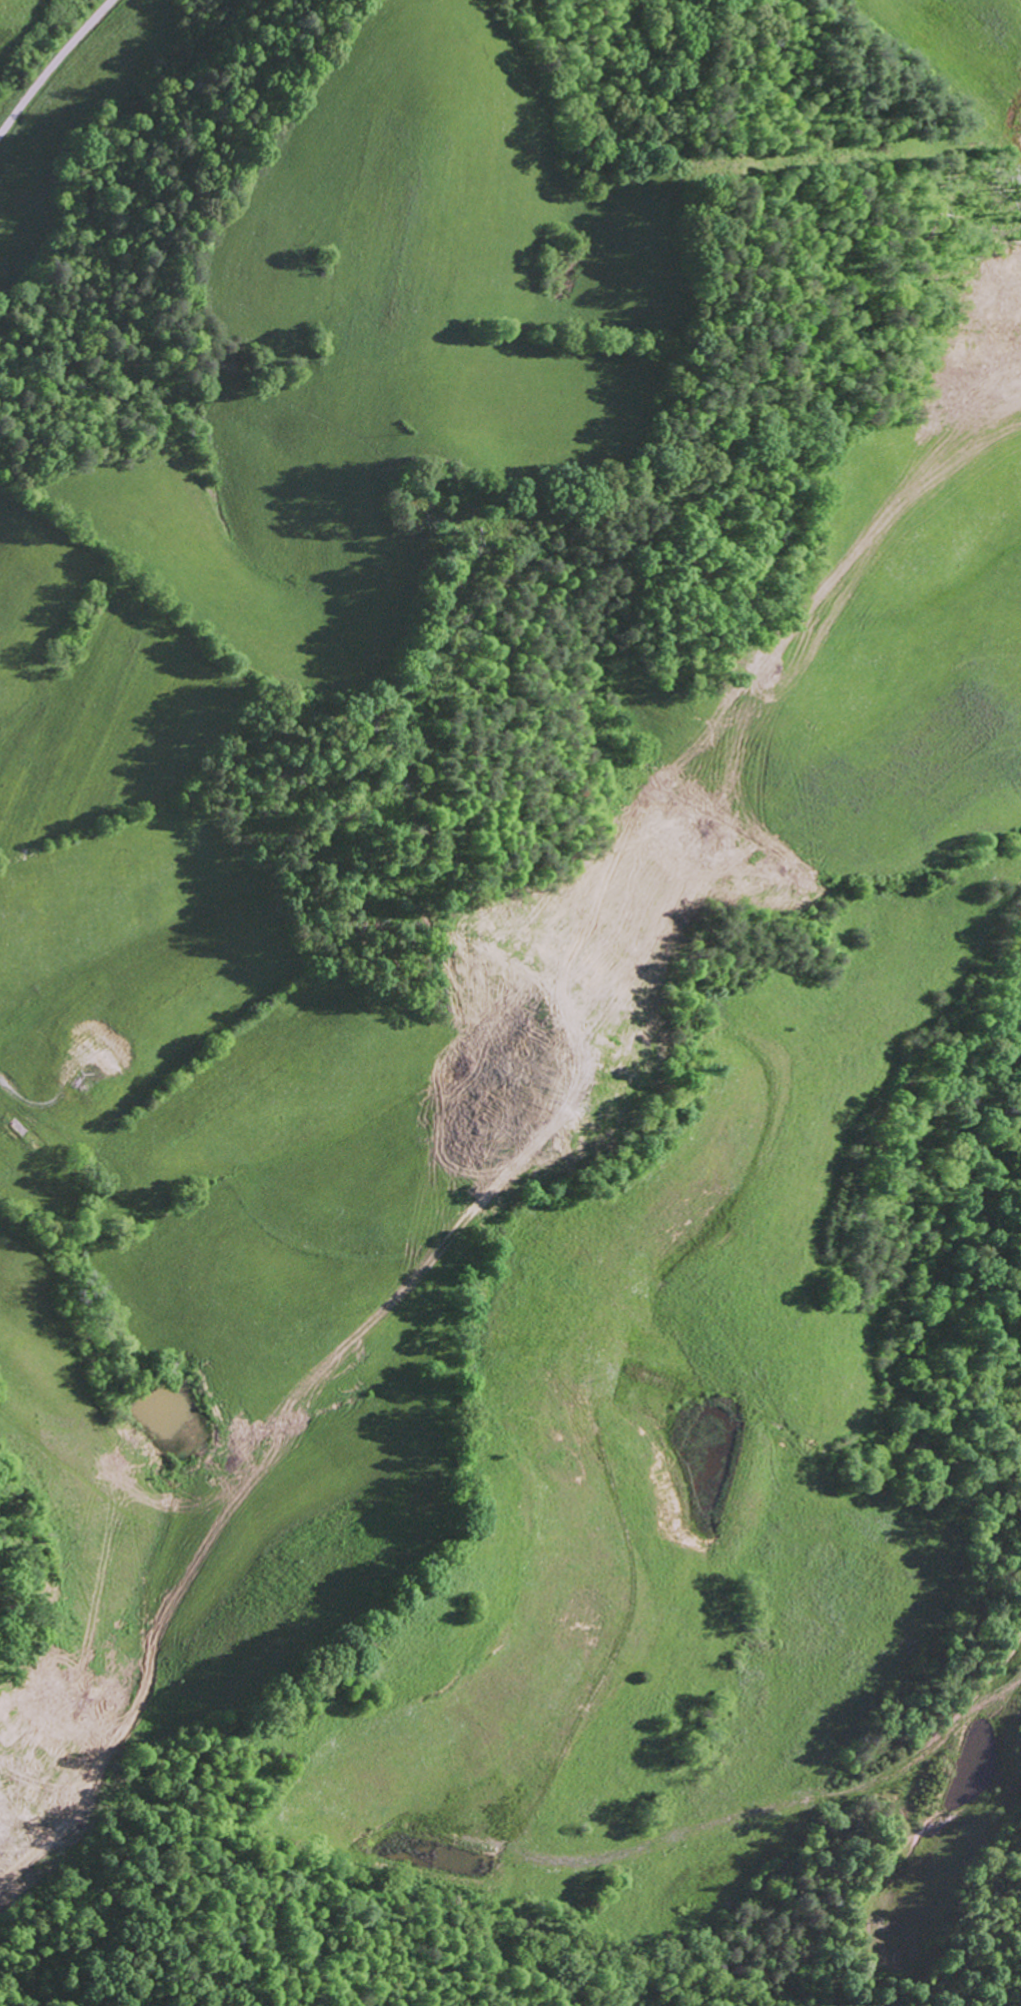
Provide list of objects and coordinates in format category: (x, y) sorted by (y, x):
road: (52, 66)
road: (483, 1092)

